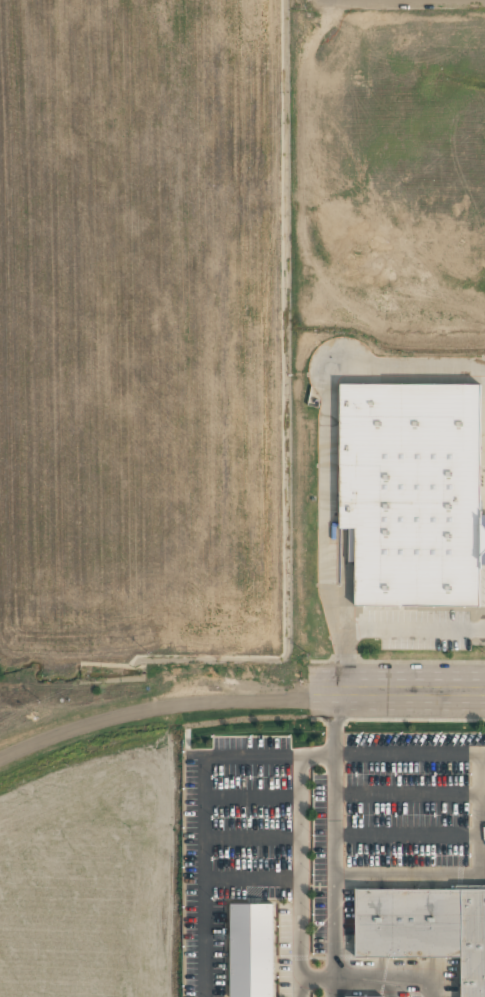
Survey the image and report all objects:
road: (327, 451)
building: (405, 491)
road: (398, 688)
road: (153, 708)
road: (407, 753)
road: (317, 754)
road: (407, 792)
road: (251, 795)
road: (202, 826)
road: (407, 833)
road: (251, 836)
road: (300, 875)
road: (376, 878)
road: (251, 879)
building: (423, 930)
road: (332, 937)
building: (246, 950)
road: (395, 973)
road: (316, 975)
building: (358, 996)

